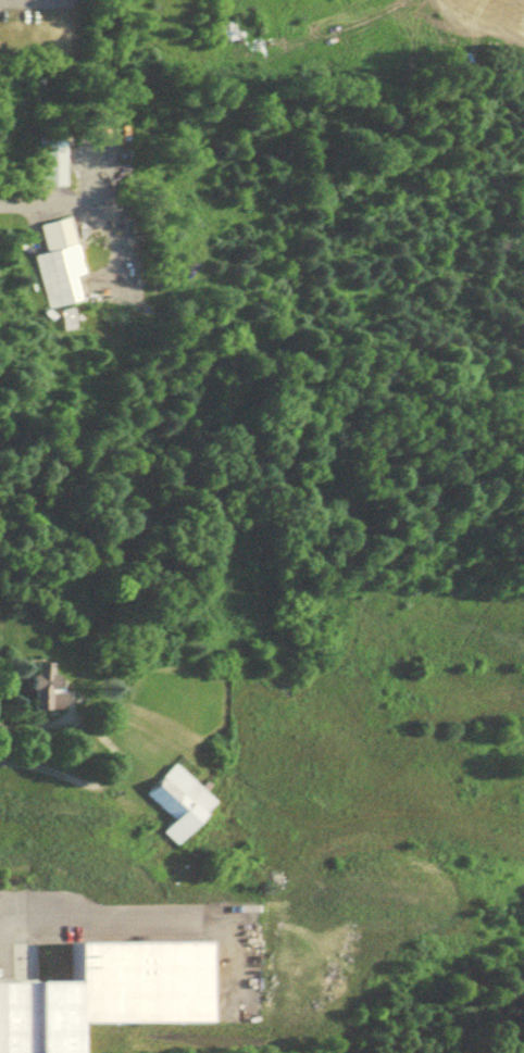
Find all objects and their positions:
road: (29, 1)
building: (45, 166)
road: (80, 206)
building: (58, 268)
building: (28, 695)
road: (110, 765)
building: (175, 807)
road: (92, 913)

